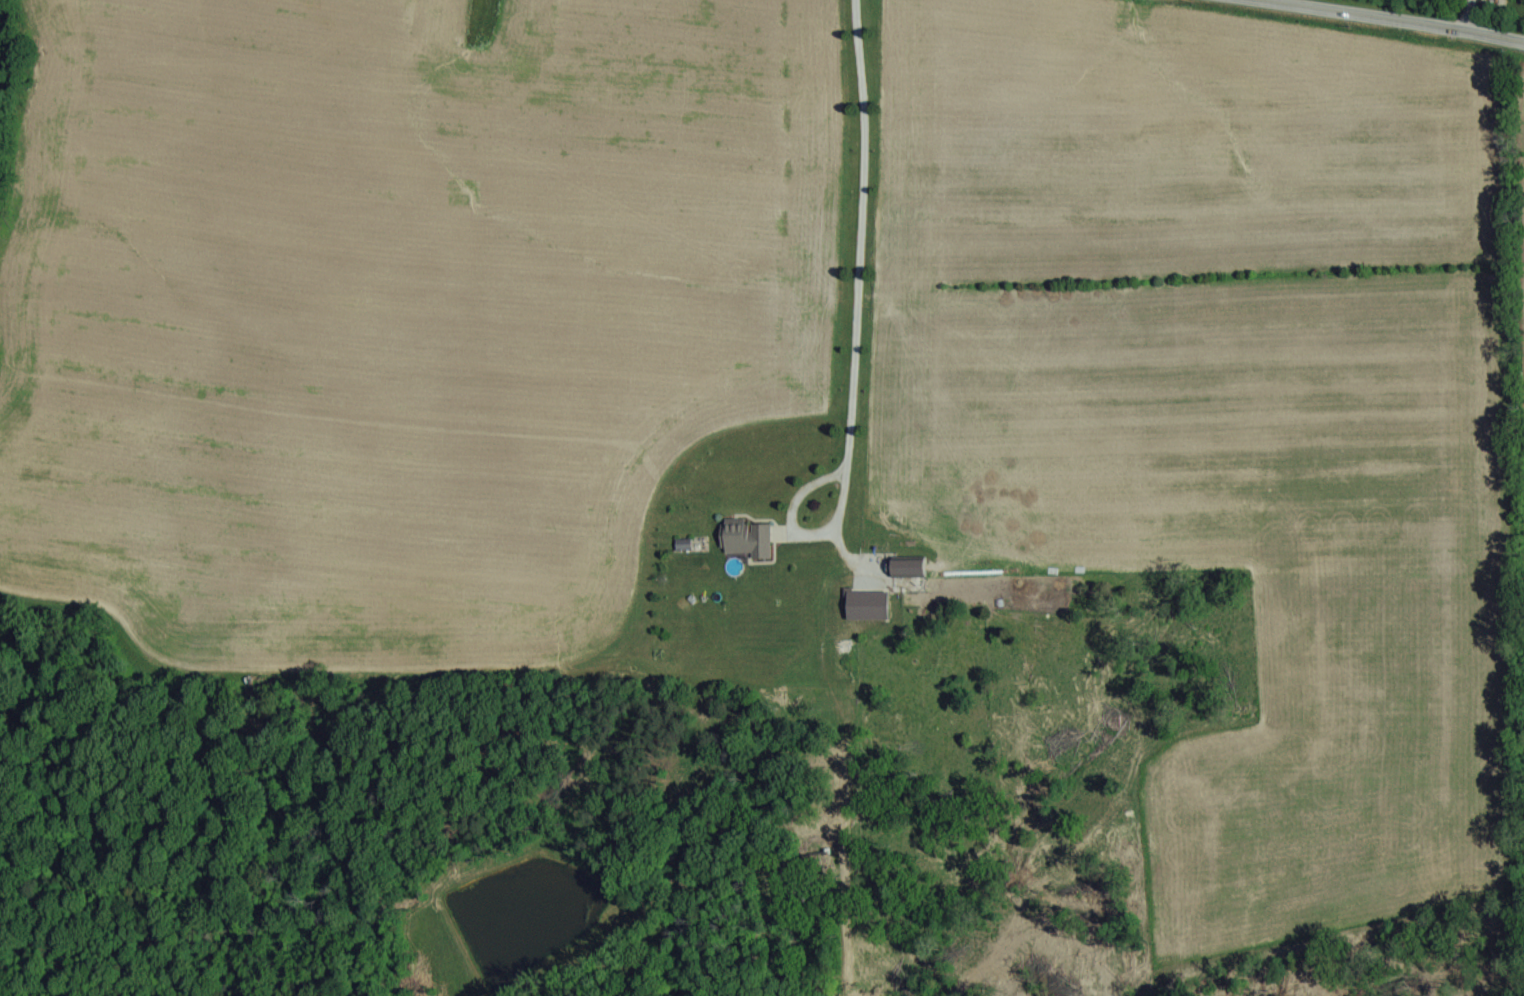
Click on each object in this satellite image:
road: (1478, 14)
road: (1410, 17)
road: (859, 314)
building: (745, 539)
building: (681, 545)
building: (906, 567)
building: (866, 606)

